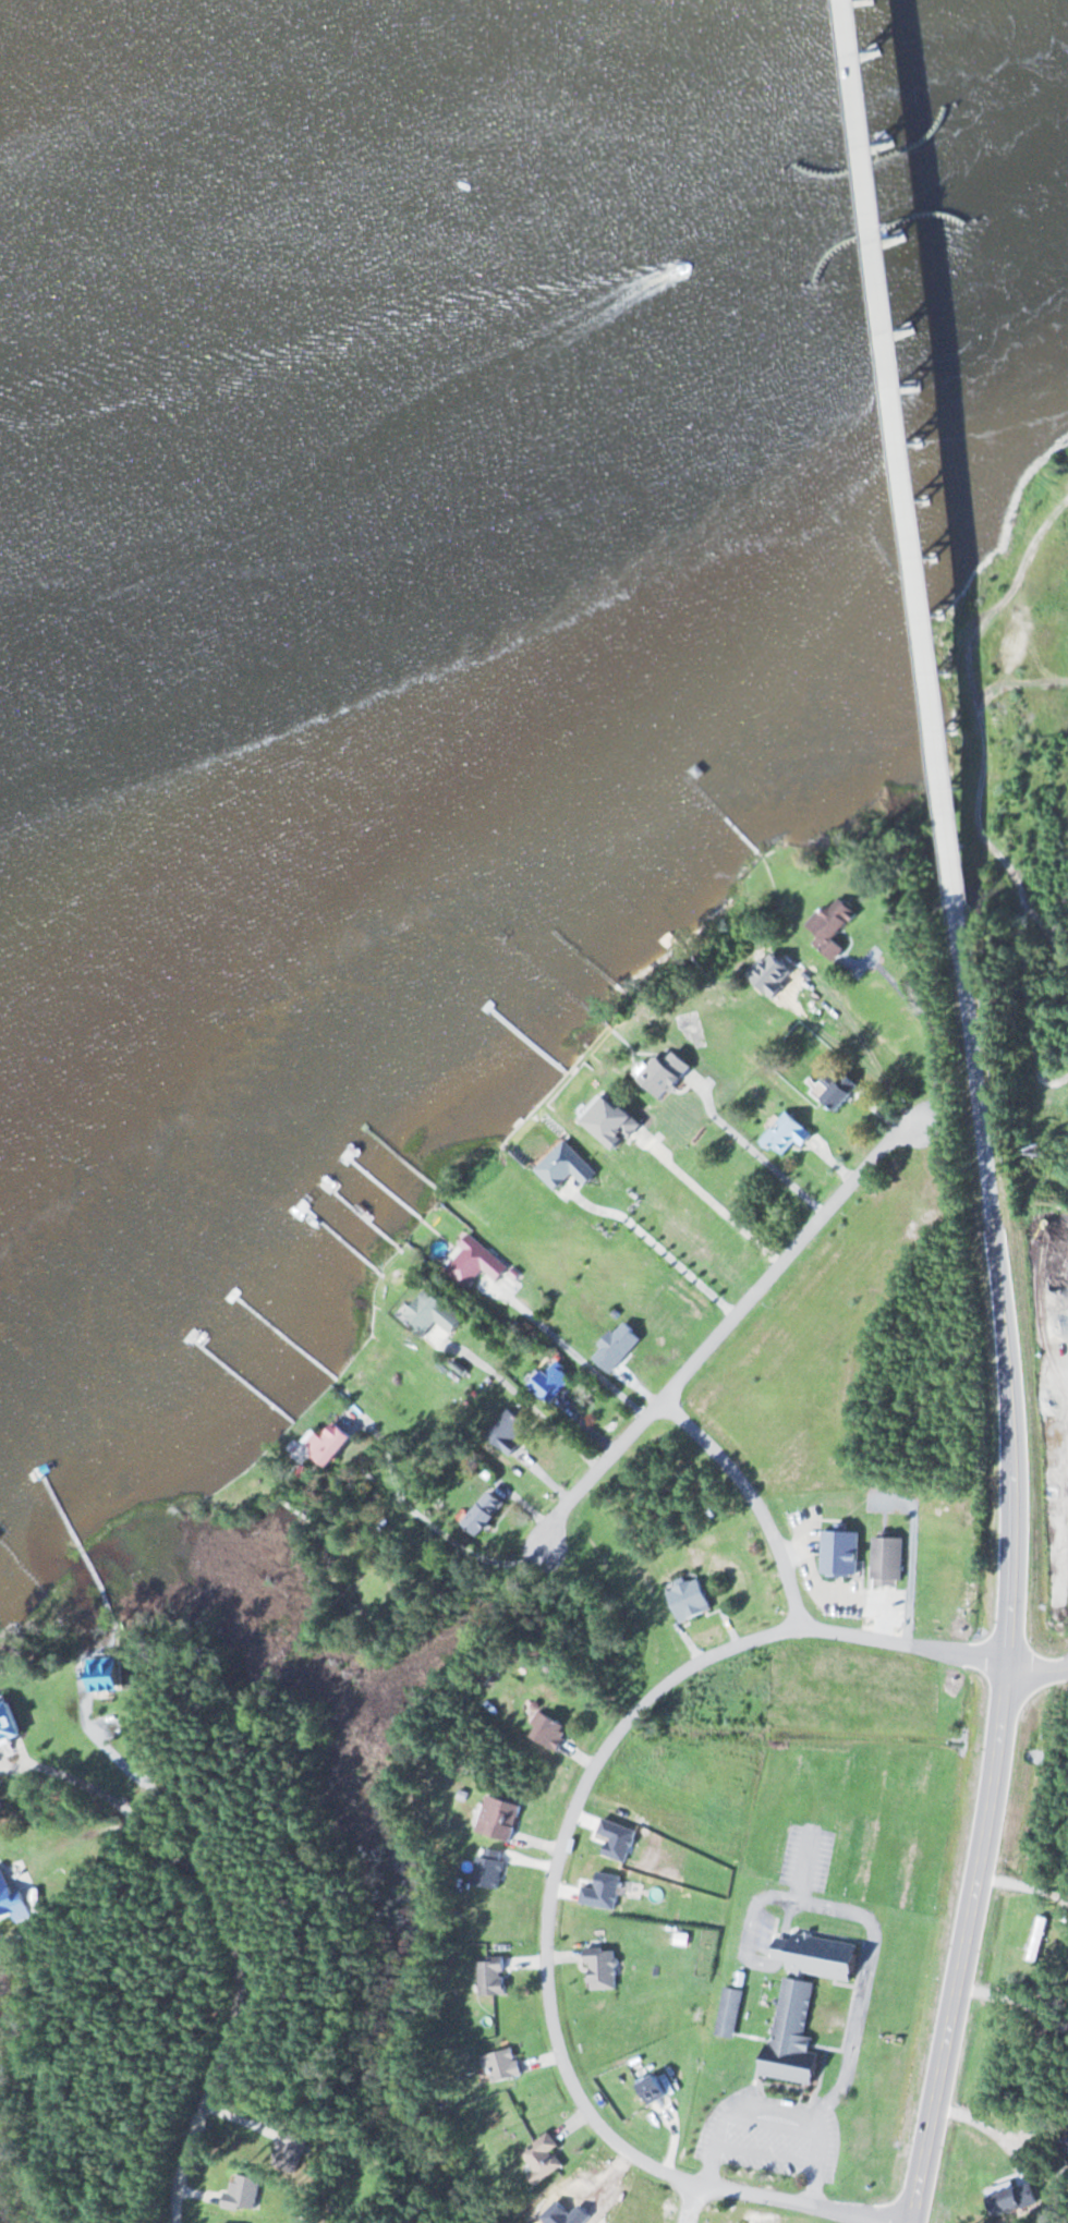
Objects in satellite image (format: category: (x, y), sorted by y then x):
river: (469, 299)
road: (881, 464)
building: (569, 554)
building: (835, 925)
building: (672, 1072)
building: (836, 1090)
building: (568, 1166)
building: (477, 1262)
building: (434, 1314)
road: (716, 1333)
building: (619, 1347)
building: (556, 1381)
building: (511, 1433)
building: (333, 1443)
road: (748, 1504)
building: (490, 1513)
building: (842, 1553)
building: (889, 1560)
road: (1011, 1577)
building: (692, 1599)
road: (1039, 1667)
building: (9, 1724)
building: (554, 1730)
building: (496, 1815)
road: (555, 1883)
building: (1039, 1939)
building: (604, 1968)
building: (731, 2011)
road: (233, 2014)
building: (794, 2034)
building: (505, 2065)
building: (659, 2089)
building: (545, 2158)
building: (1017, 2199)
road: (687, 2201)

